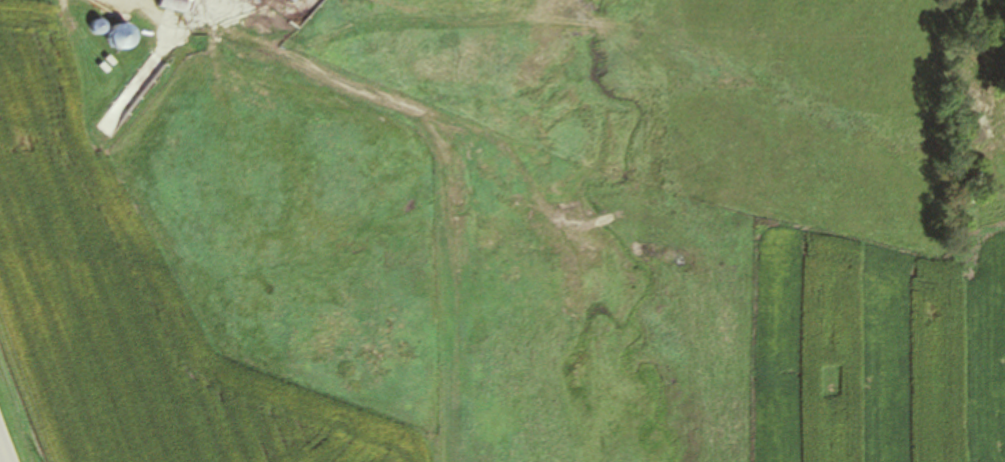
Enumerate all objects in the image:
building: (297, 0)
building: (176, 4)
road: (3, 453)

